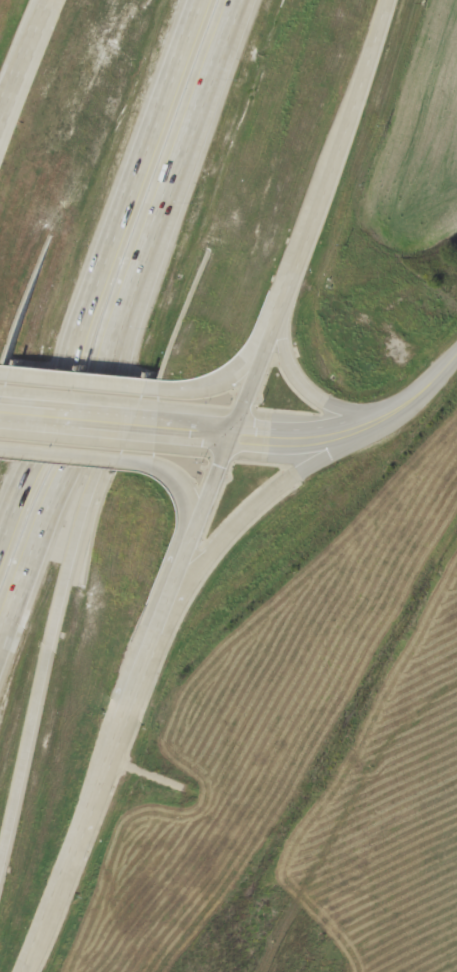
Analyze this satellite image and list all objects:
road: (21, 53)
road: (311, 217)
road: (97, 266)
road: (117, 318)
road: (226, 376)
road: (86, 380)
road: (319, 398)
road: (411, 399)
road: (72, 417)
road: (187, 429)
road: (293, 437)
road: (70, 456)
road: (186, 508)
road: (231, 526)
road: (69, 557)
road: (128, 702)
building: (73, 837)

